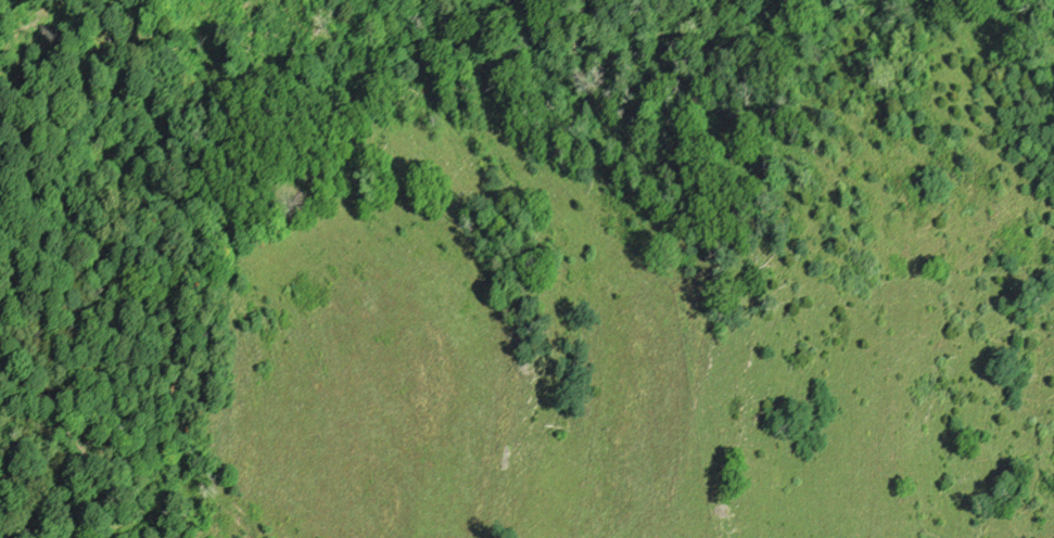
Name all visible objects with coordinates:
road: (193, 498)

